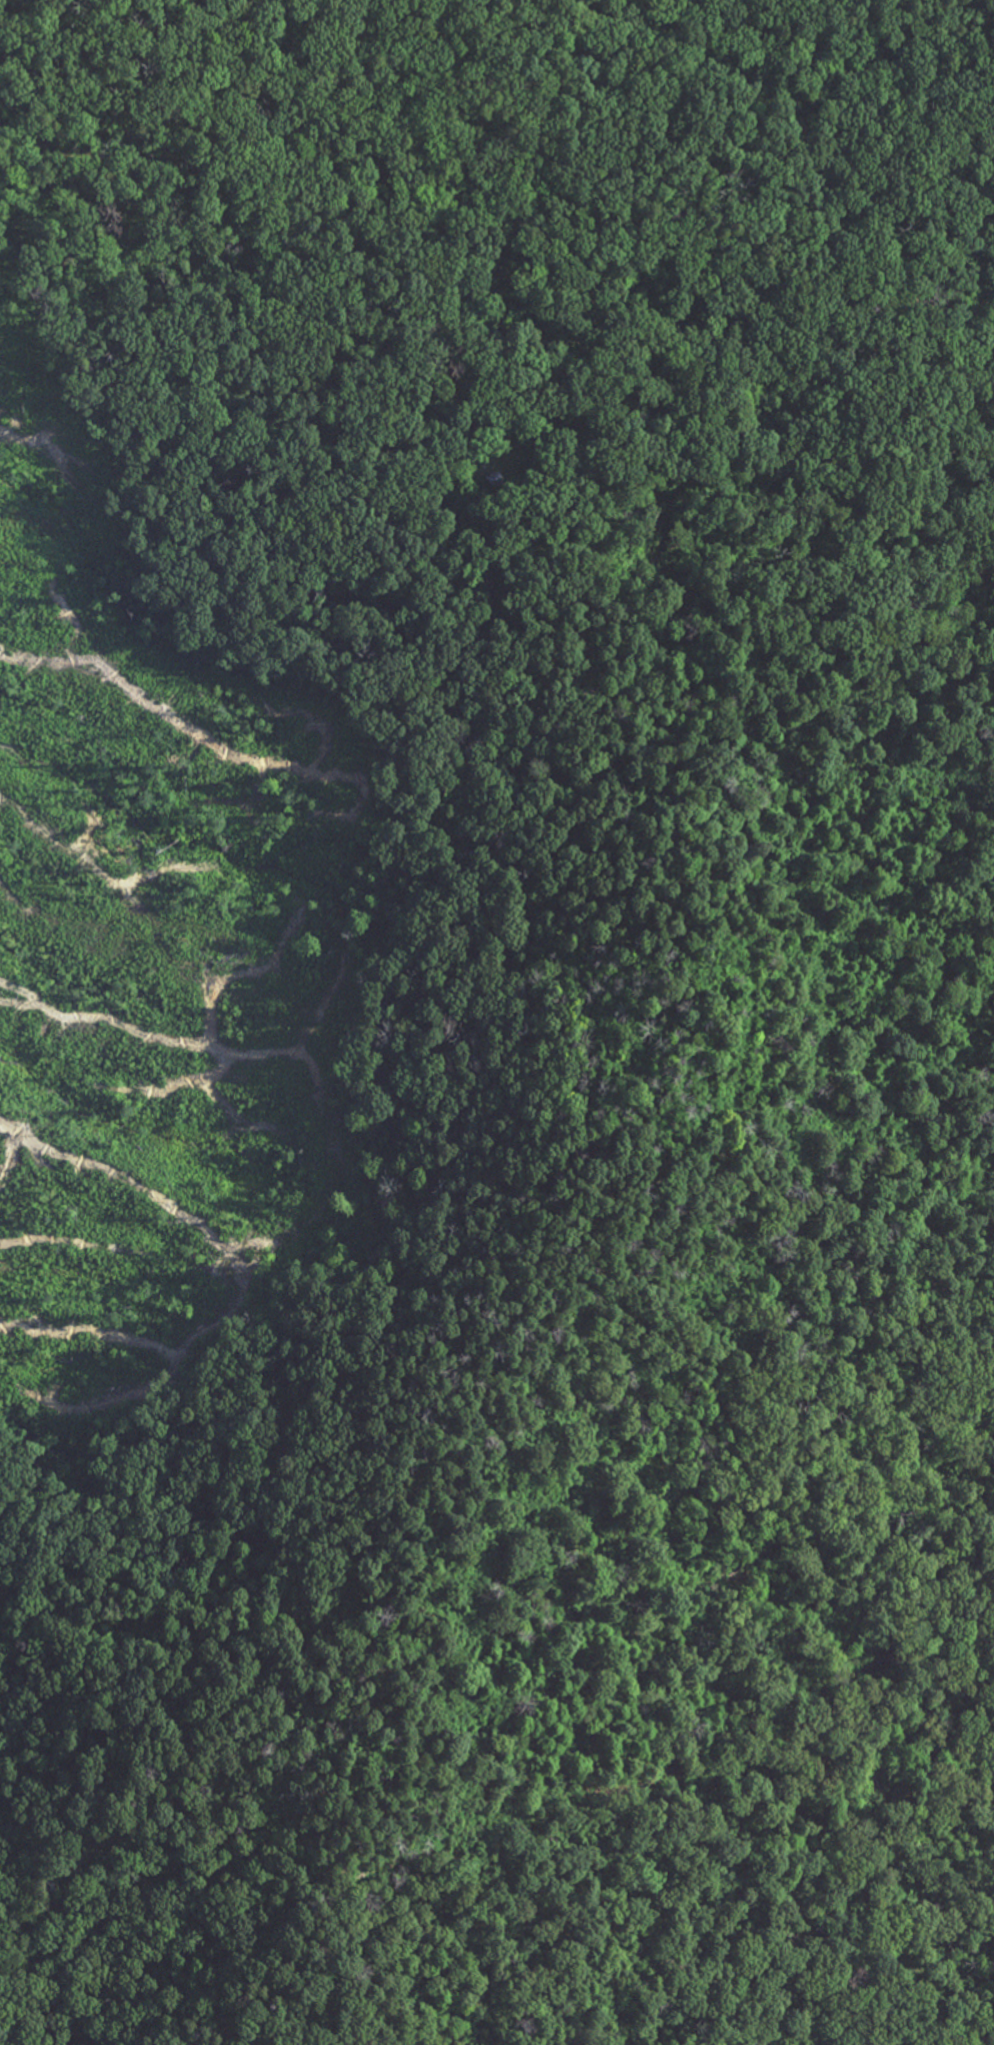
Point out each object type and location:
building: (3, 1)
road: (256, 251)
water tower: (490, 480)

